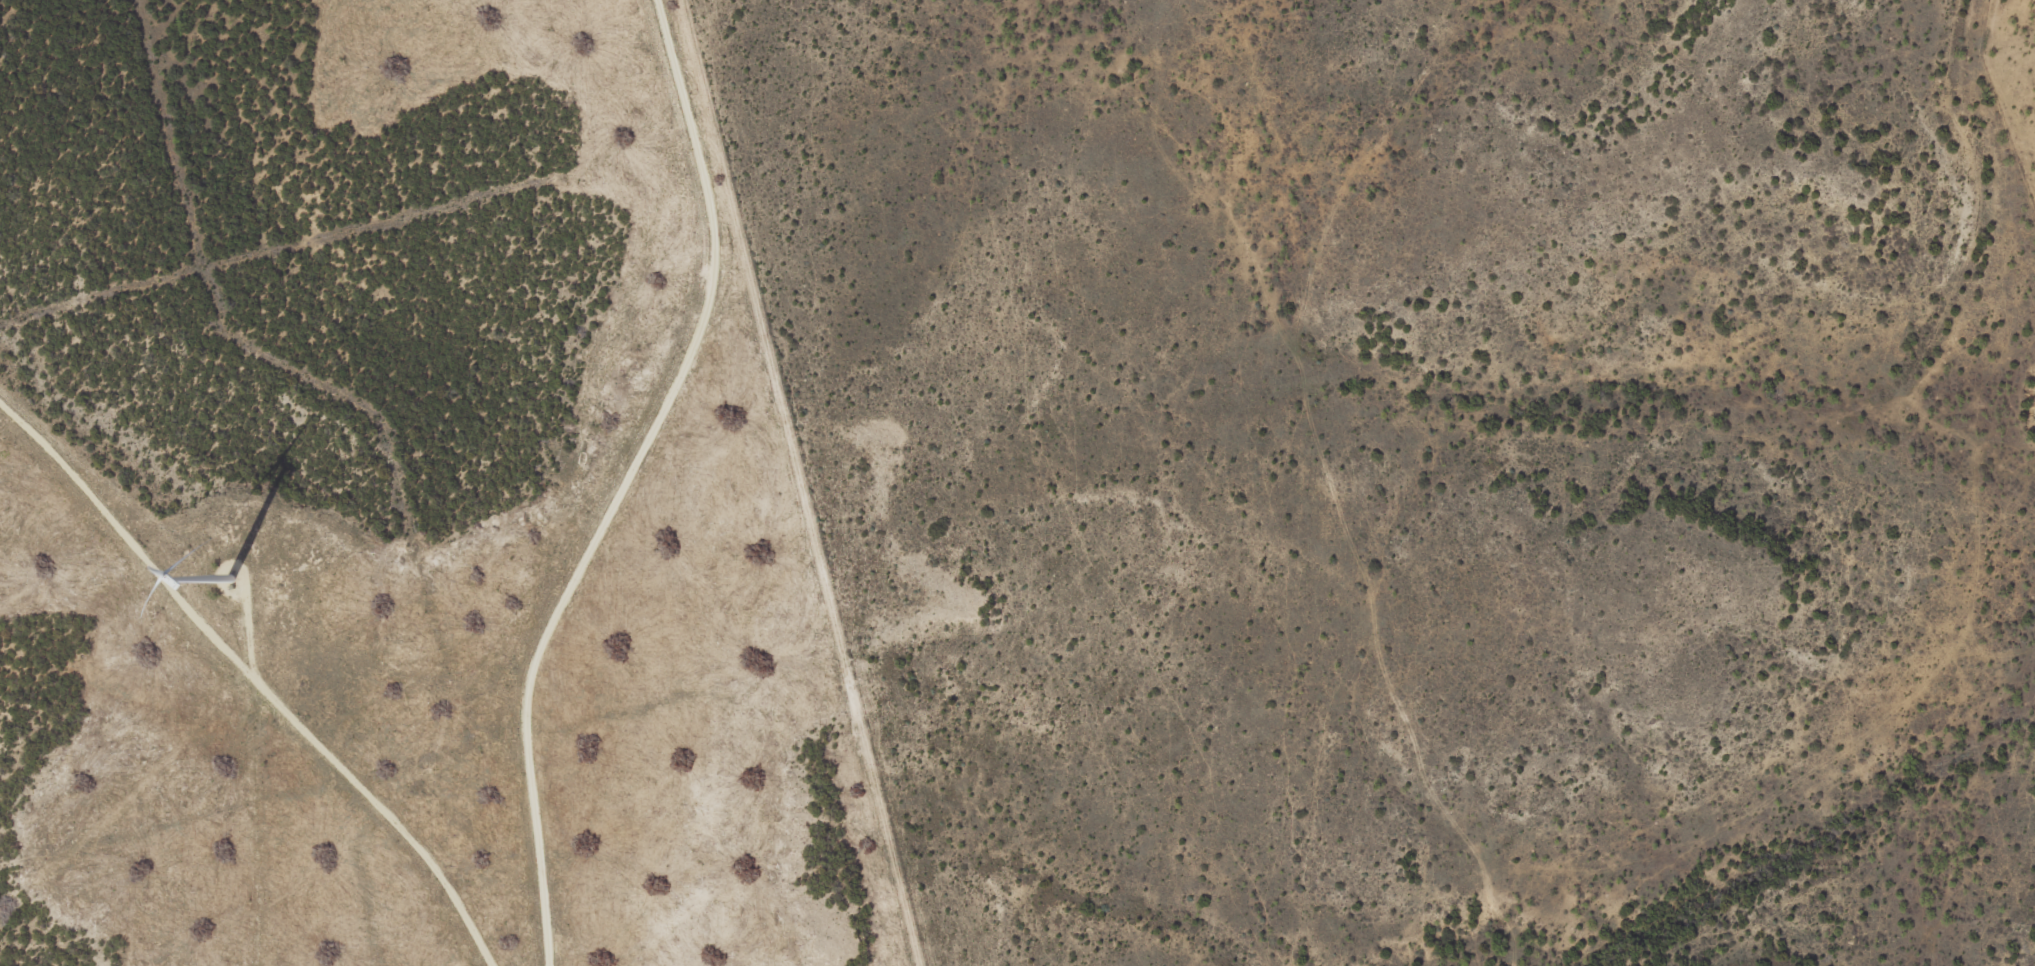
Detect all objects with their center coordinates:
road: (1352, 485)
wind turbine: (230, 580)

